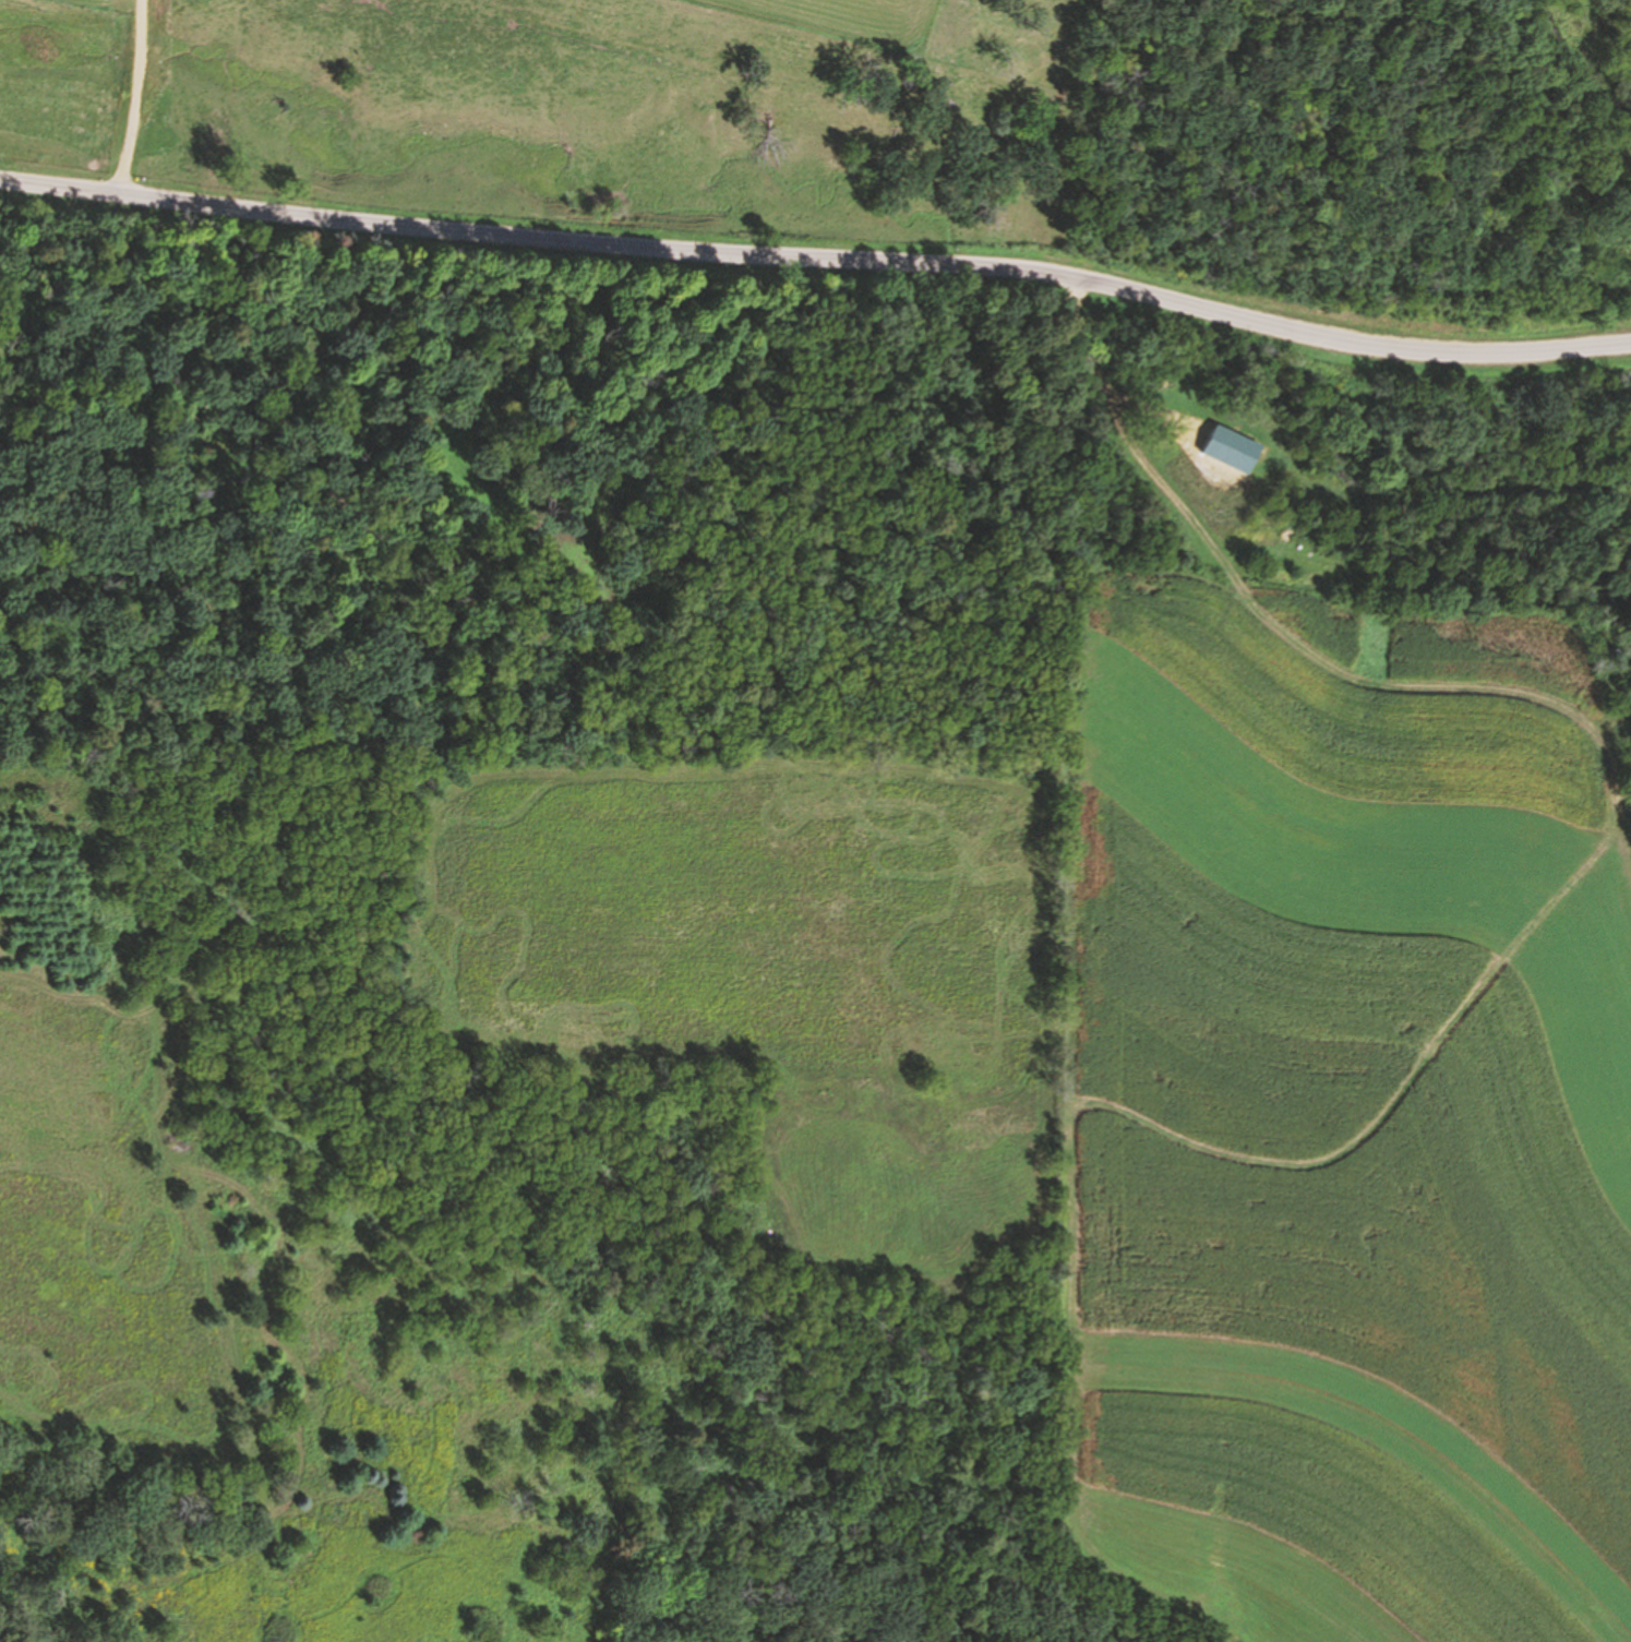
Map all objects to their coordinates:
road: (143, 100)
road: (817, 254)

